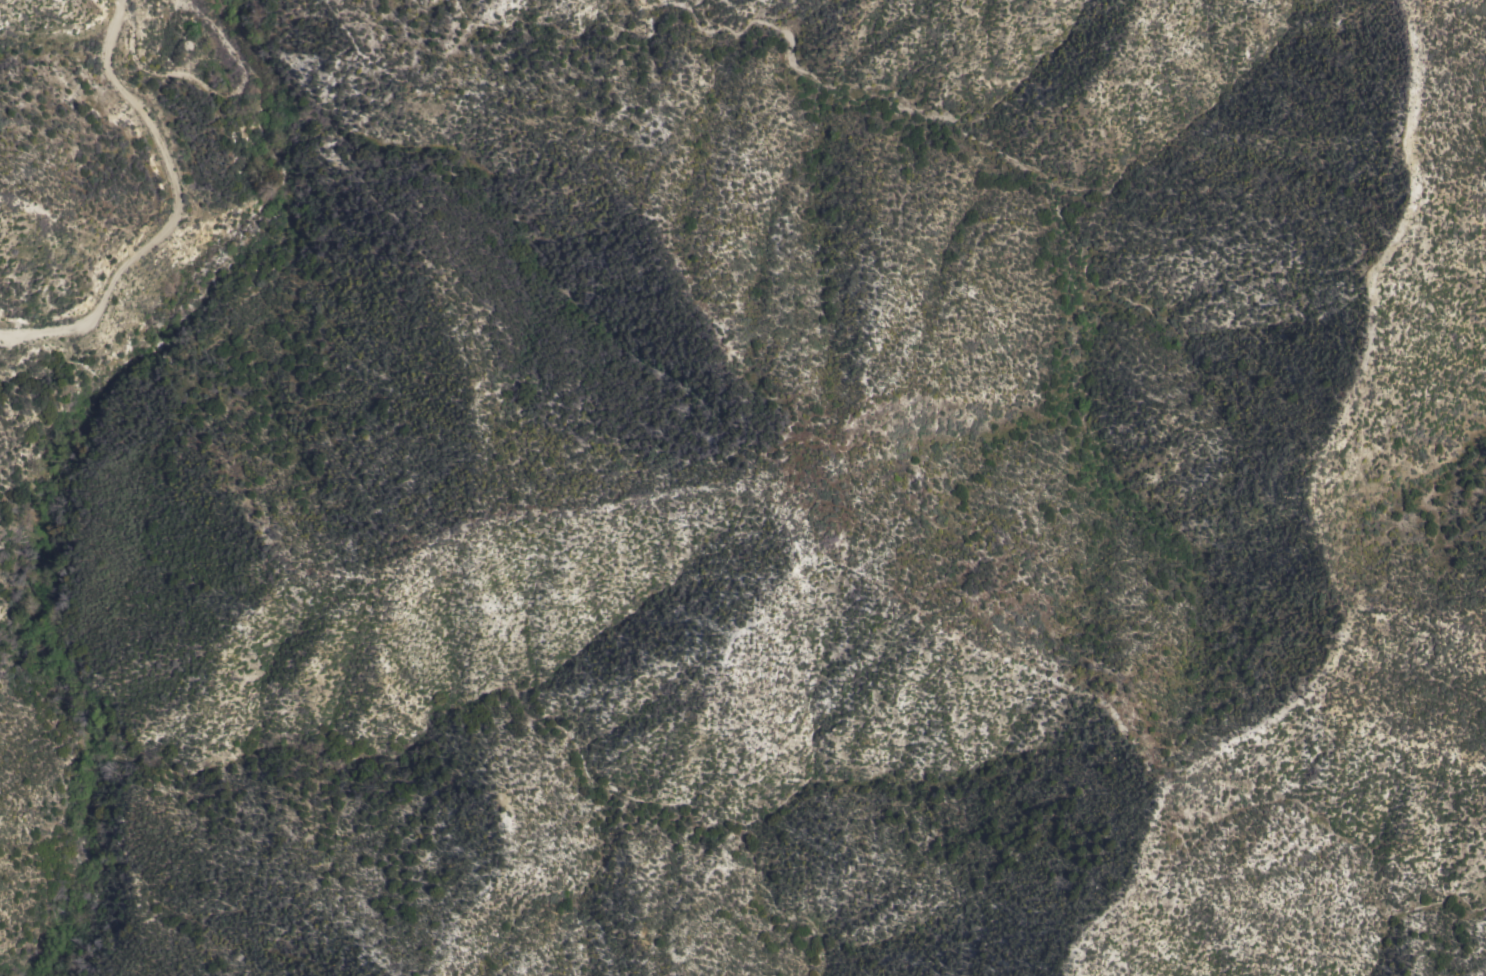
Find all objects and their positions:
road: (210, 81)
road: (187, 209)
road: (1330, 539)

